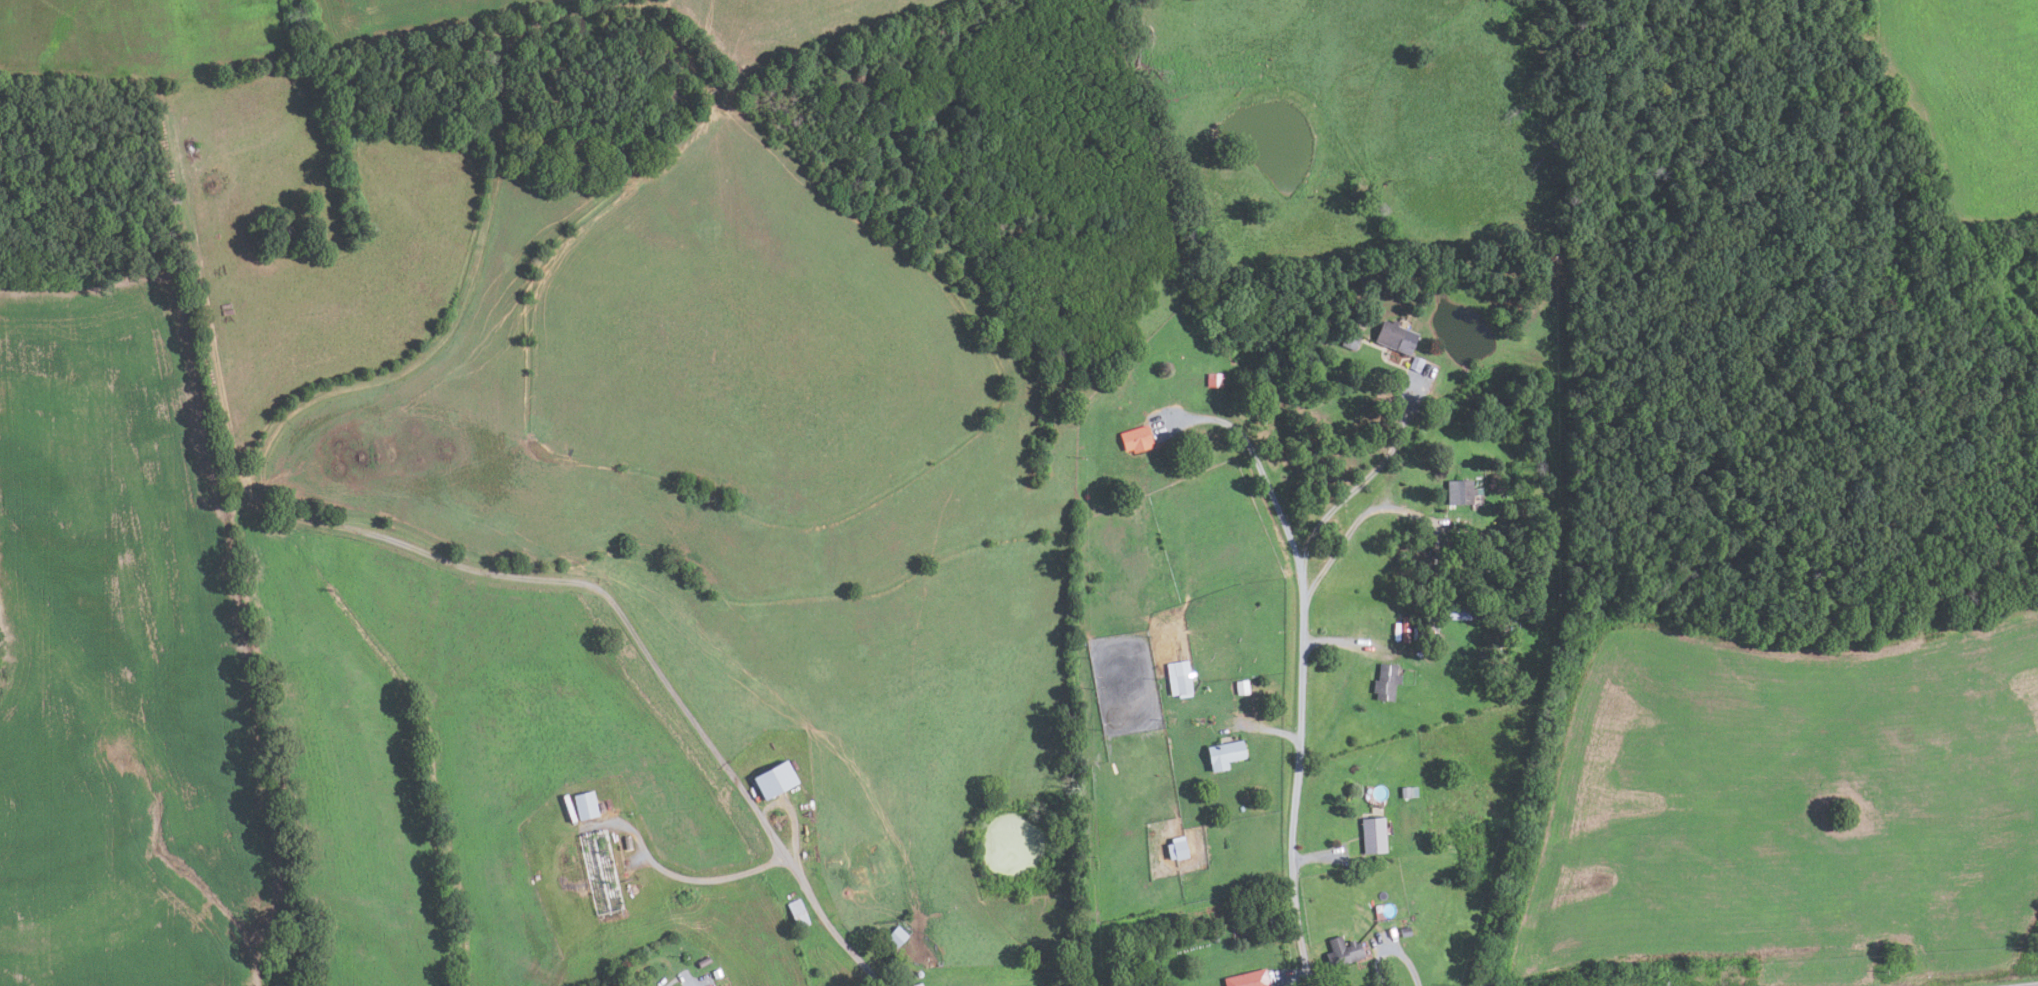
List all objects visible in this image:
crop: (1972, 100)
building: (1358, 321)
building: (1396, 337)
building: (1351, 341)
building: (1416, 364)
building: (1214, 380)
building: (1135, 439)
road: (1267, 487)
building: (1459, 492)
road: (1345, 495)
building: (1086, 497)
road: (1348, 530)
building: (1457, 613)
building: (1472, 616)
building: (1404, 629)
road: (1334, 639)
building: (1179, 679)
building: (1385, 682)
building: (1241, 687)
road: (1268, 731)
building: (1224, 754)
building: (773, 780)
road: (1296, 780)
building: (1409, 792)
building: (584, 806)
building: (1241, 808)
crop: (1789, 812)
building: (1373, 836)
building: (626, 843)
building: (1177, 849)
road: (1319, 855)
road: (790, 867)
building: (599, 872)
building: (797, 914)
building: (1271, 922)
building: (1255, 929)
building: (1247, 932)
building: (1404, 932)
building: (896, 936)
building: (1215, 938)
building: (1343, 951)
road: (1390, 952)
building: (703, 962)
building: (717, 972)
road: (1292, 976)
building: (1248, 979)

